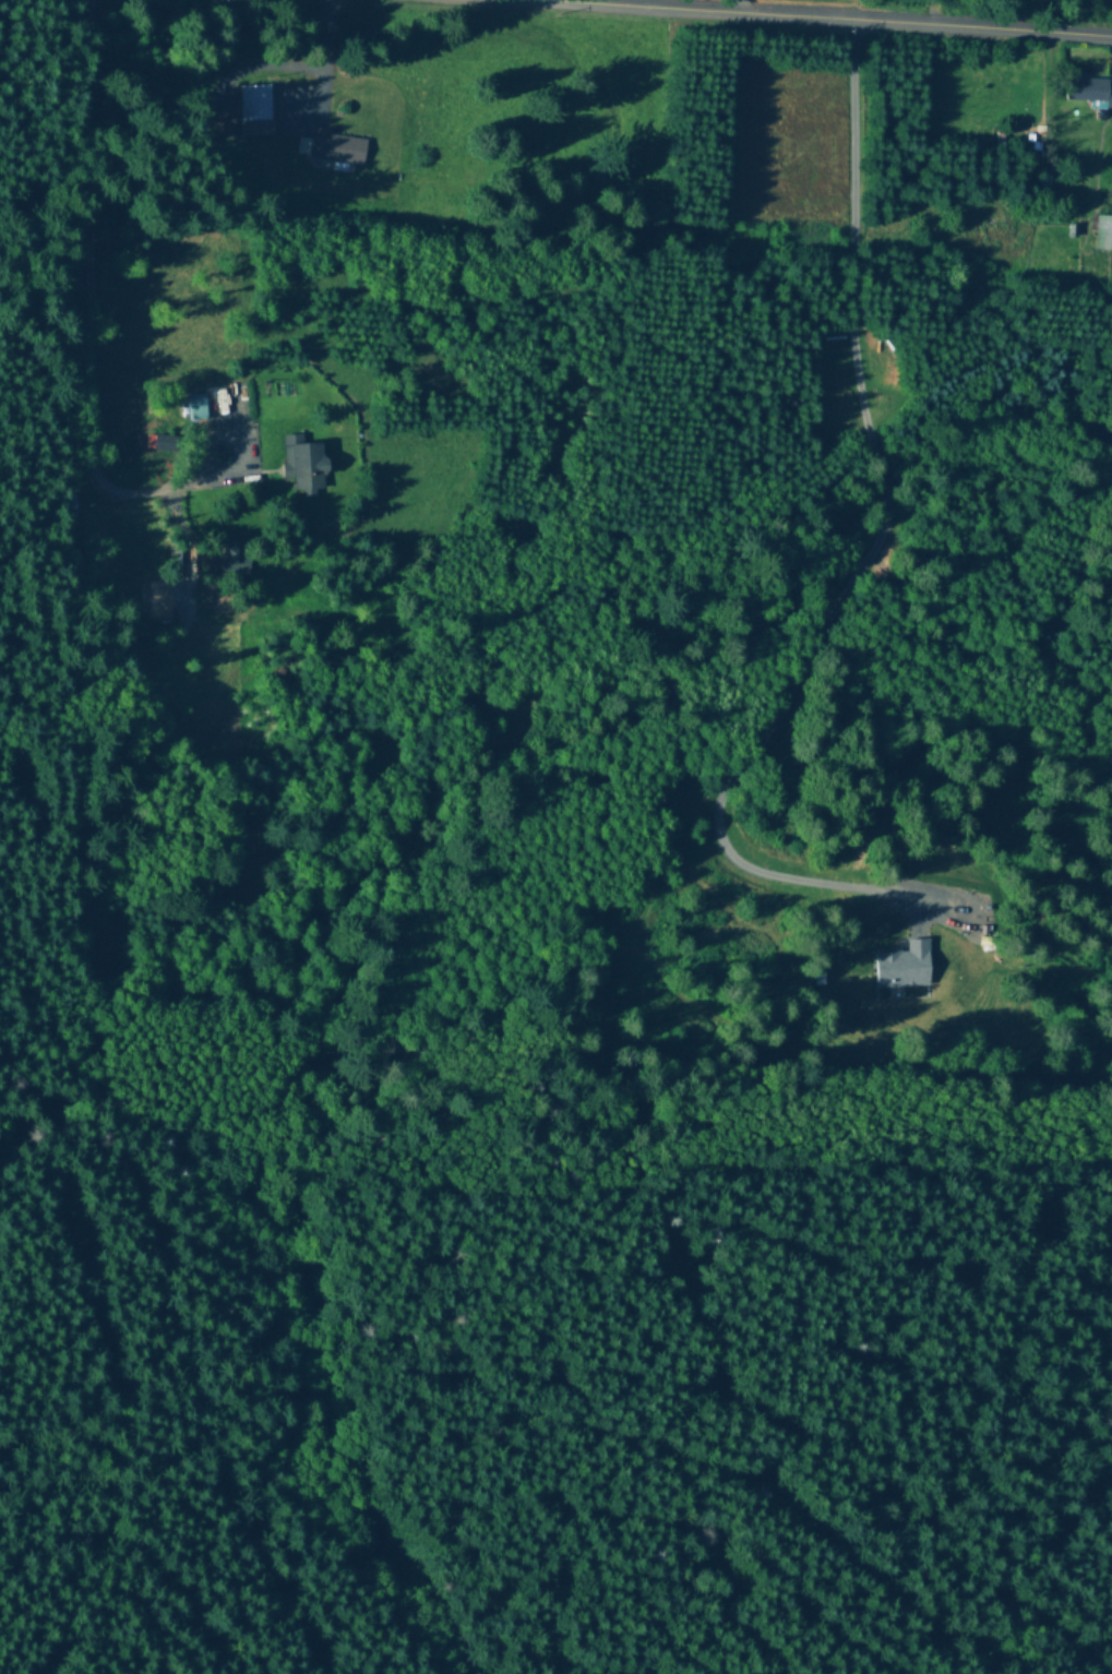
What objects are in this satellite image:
road: (730, 21)
building: (1085, 88)
building: (255, 101)
building: (333, 151)
building: (1102, 232)
building: (304, 466)
road: (869, 558)

